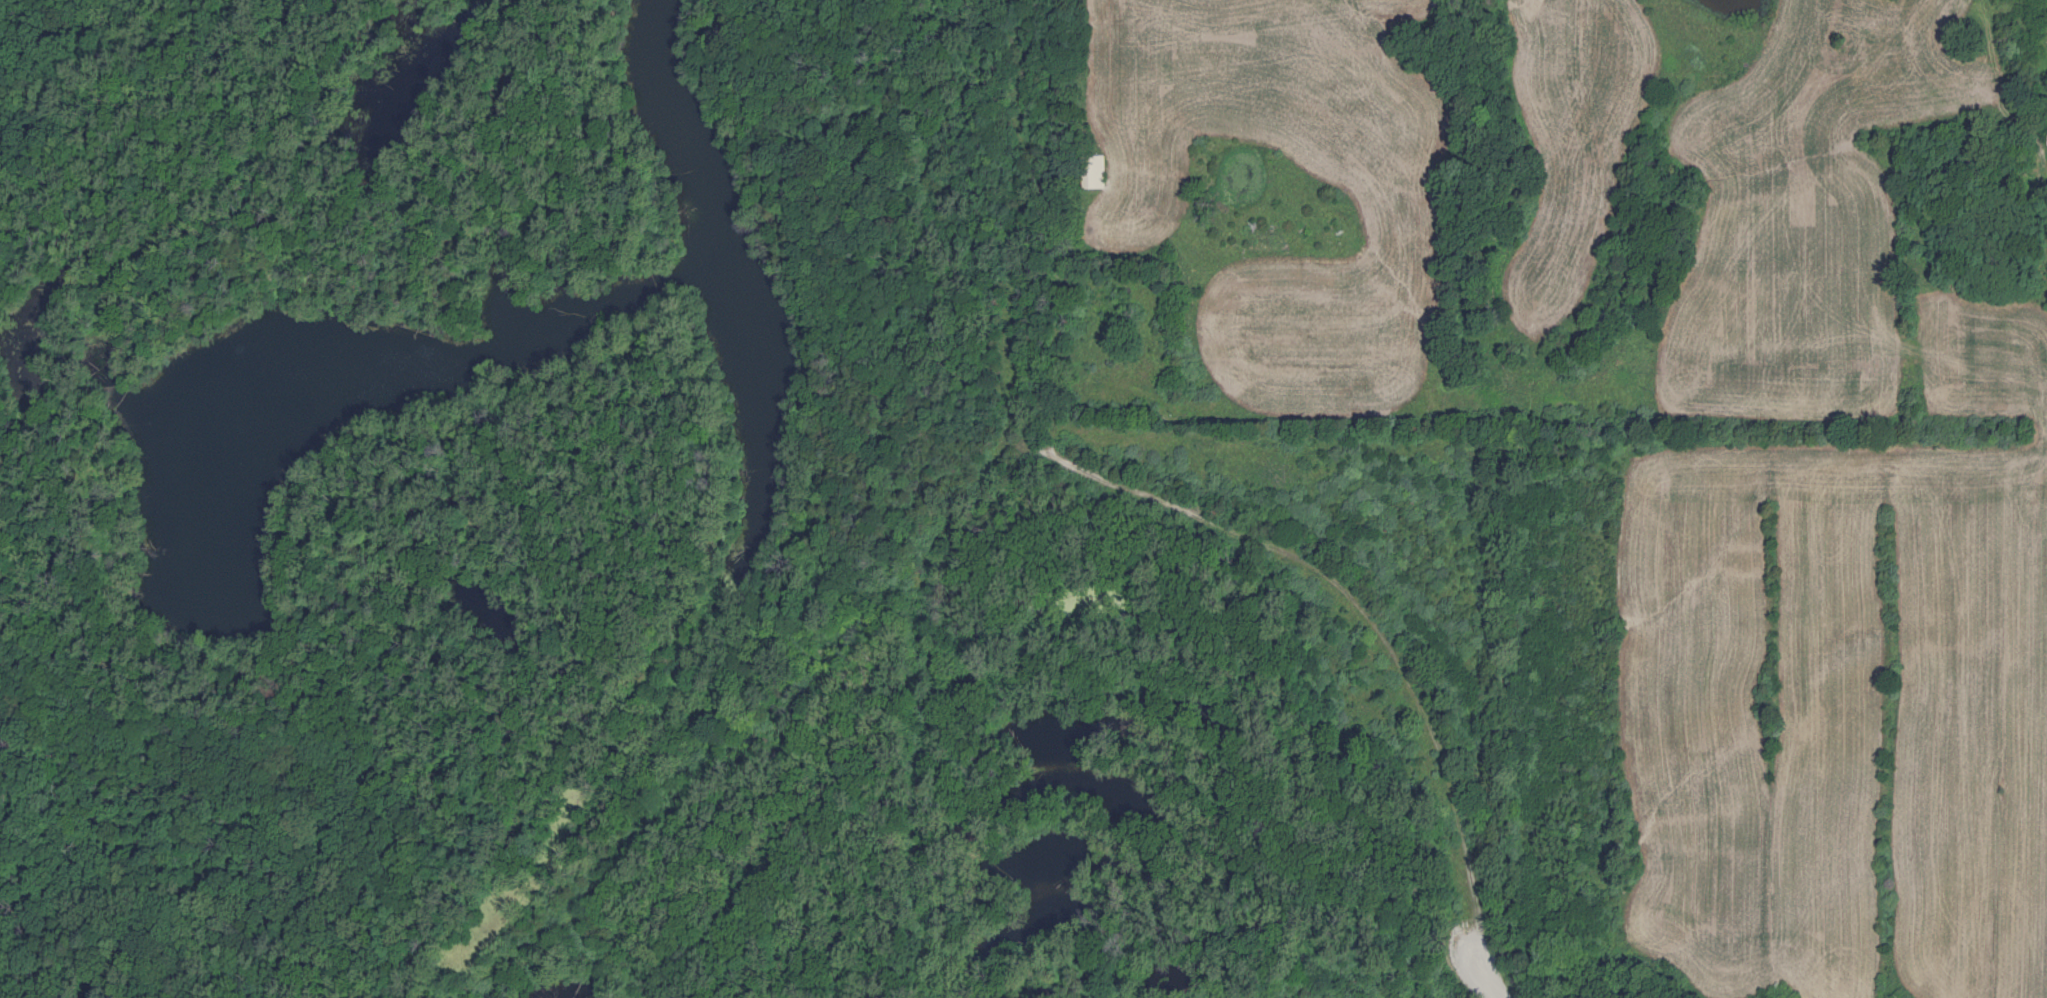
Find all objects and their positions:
building: (1093, 172)
road: (1492, 997)

